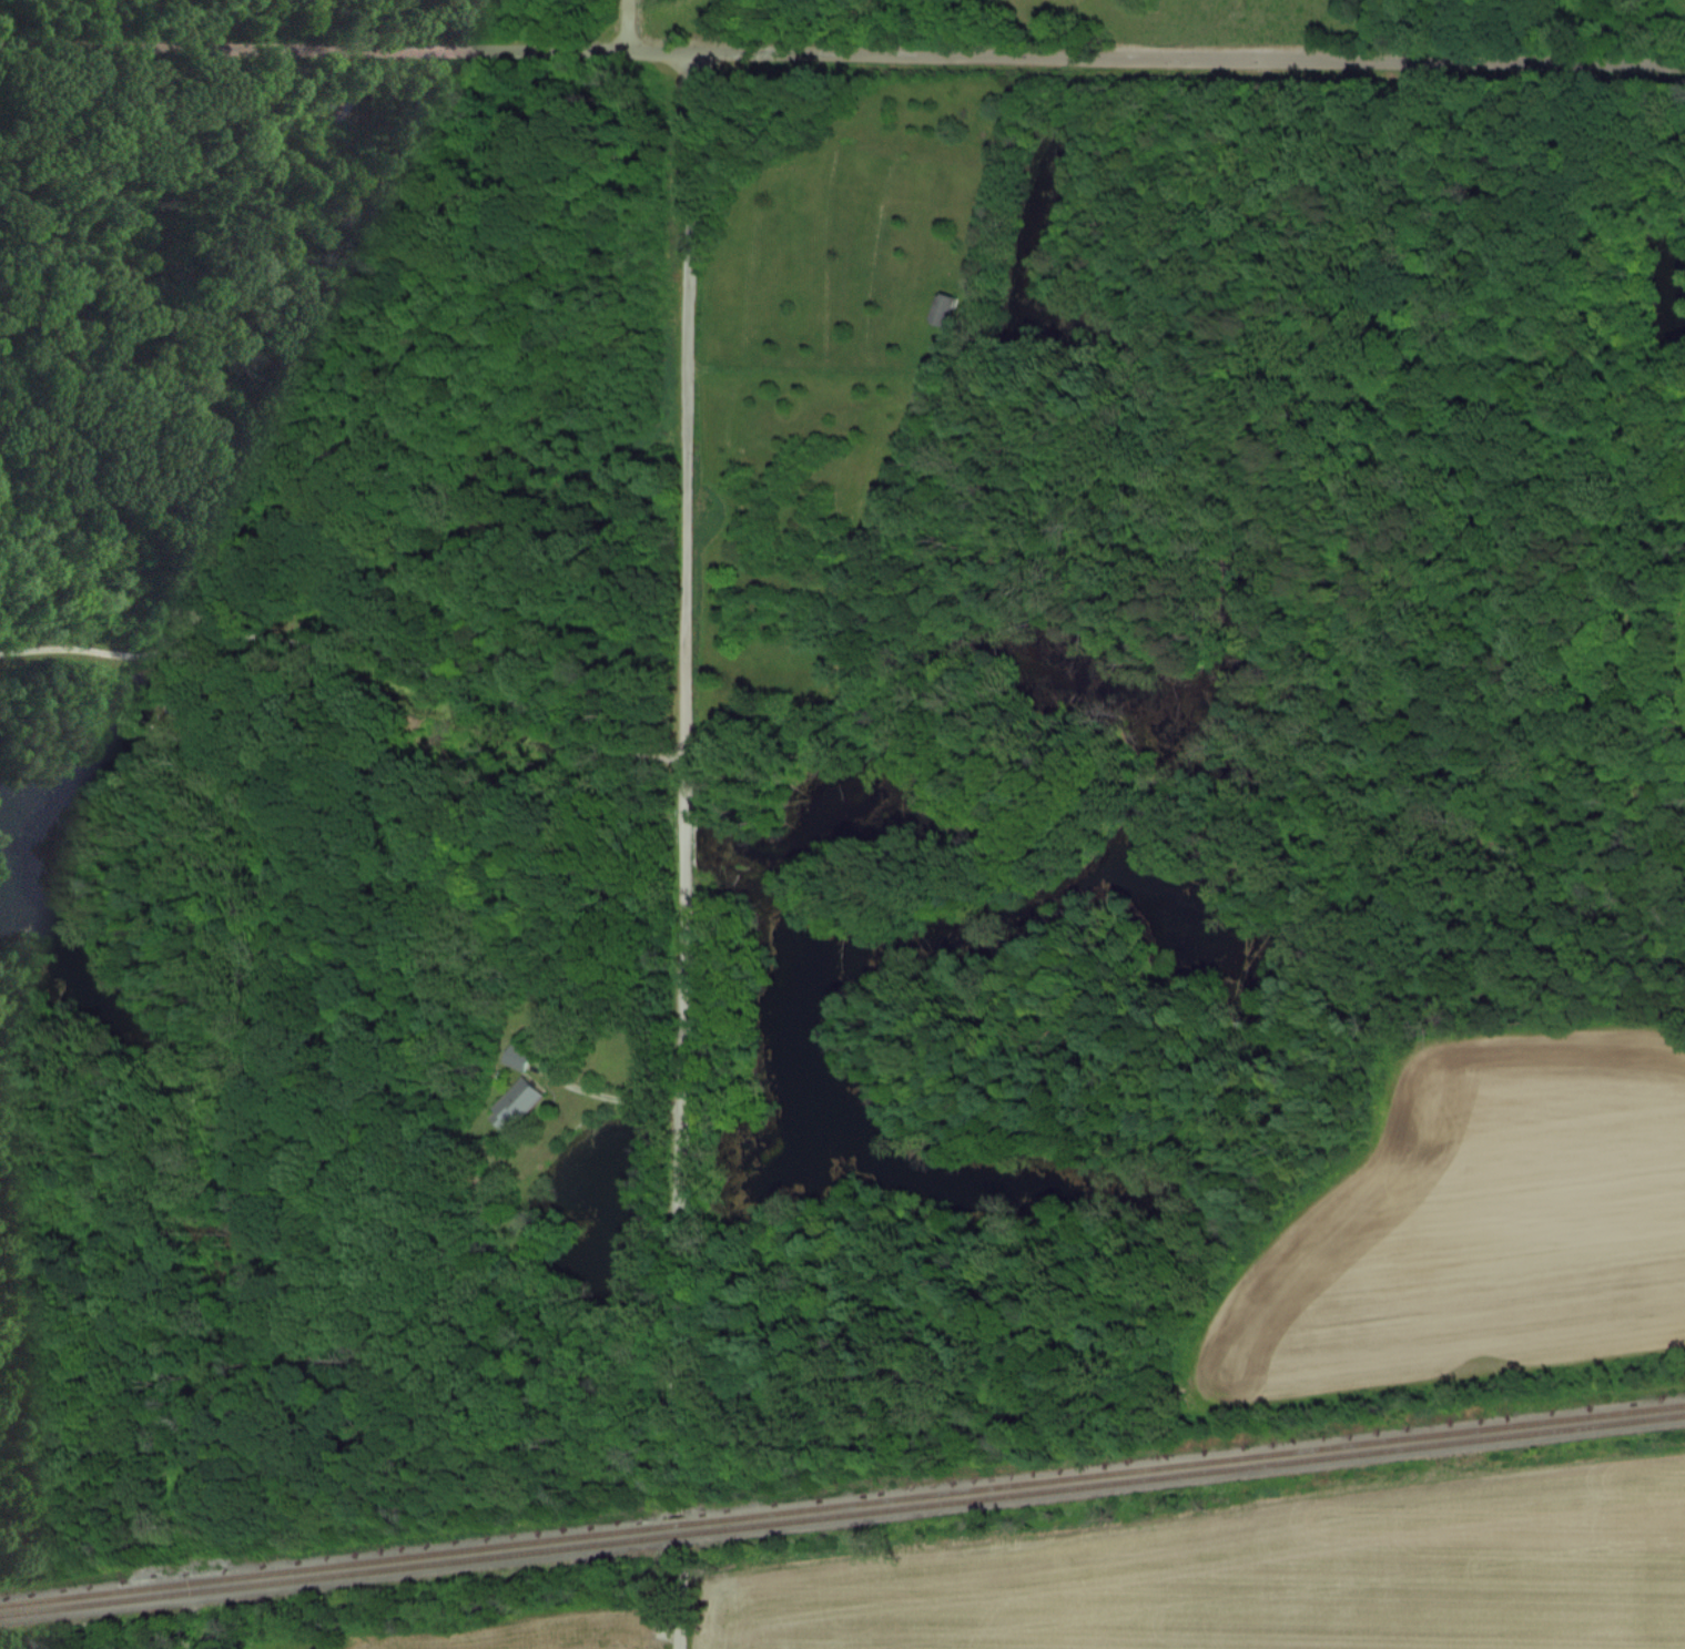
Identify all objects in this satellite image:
road: (627, 26)
road: (842, 53)
building: (943, 307)
road: (348, 664)
road: (684, 783)
road: (610, 1097)
building: (514, 1102)
railway: (842, 1504)
railway: (842, 1514)
road: (679, 1604)

